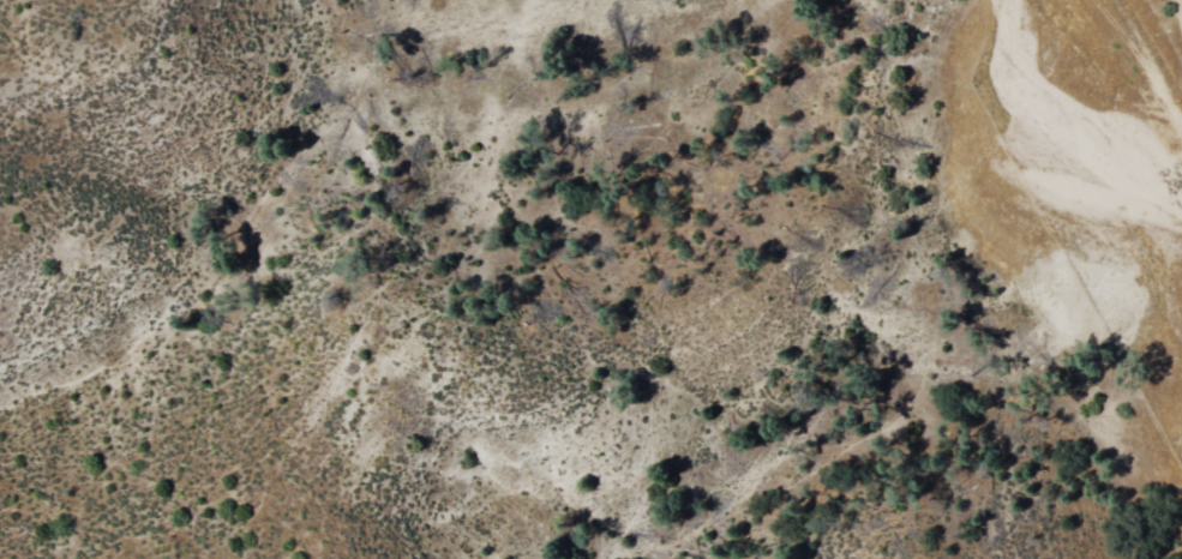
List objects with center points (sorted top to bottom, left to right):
road: (1180, 10)

